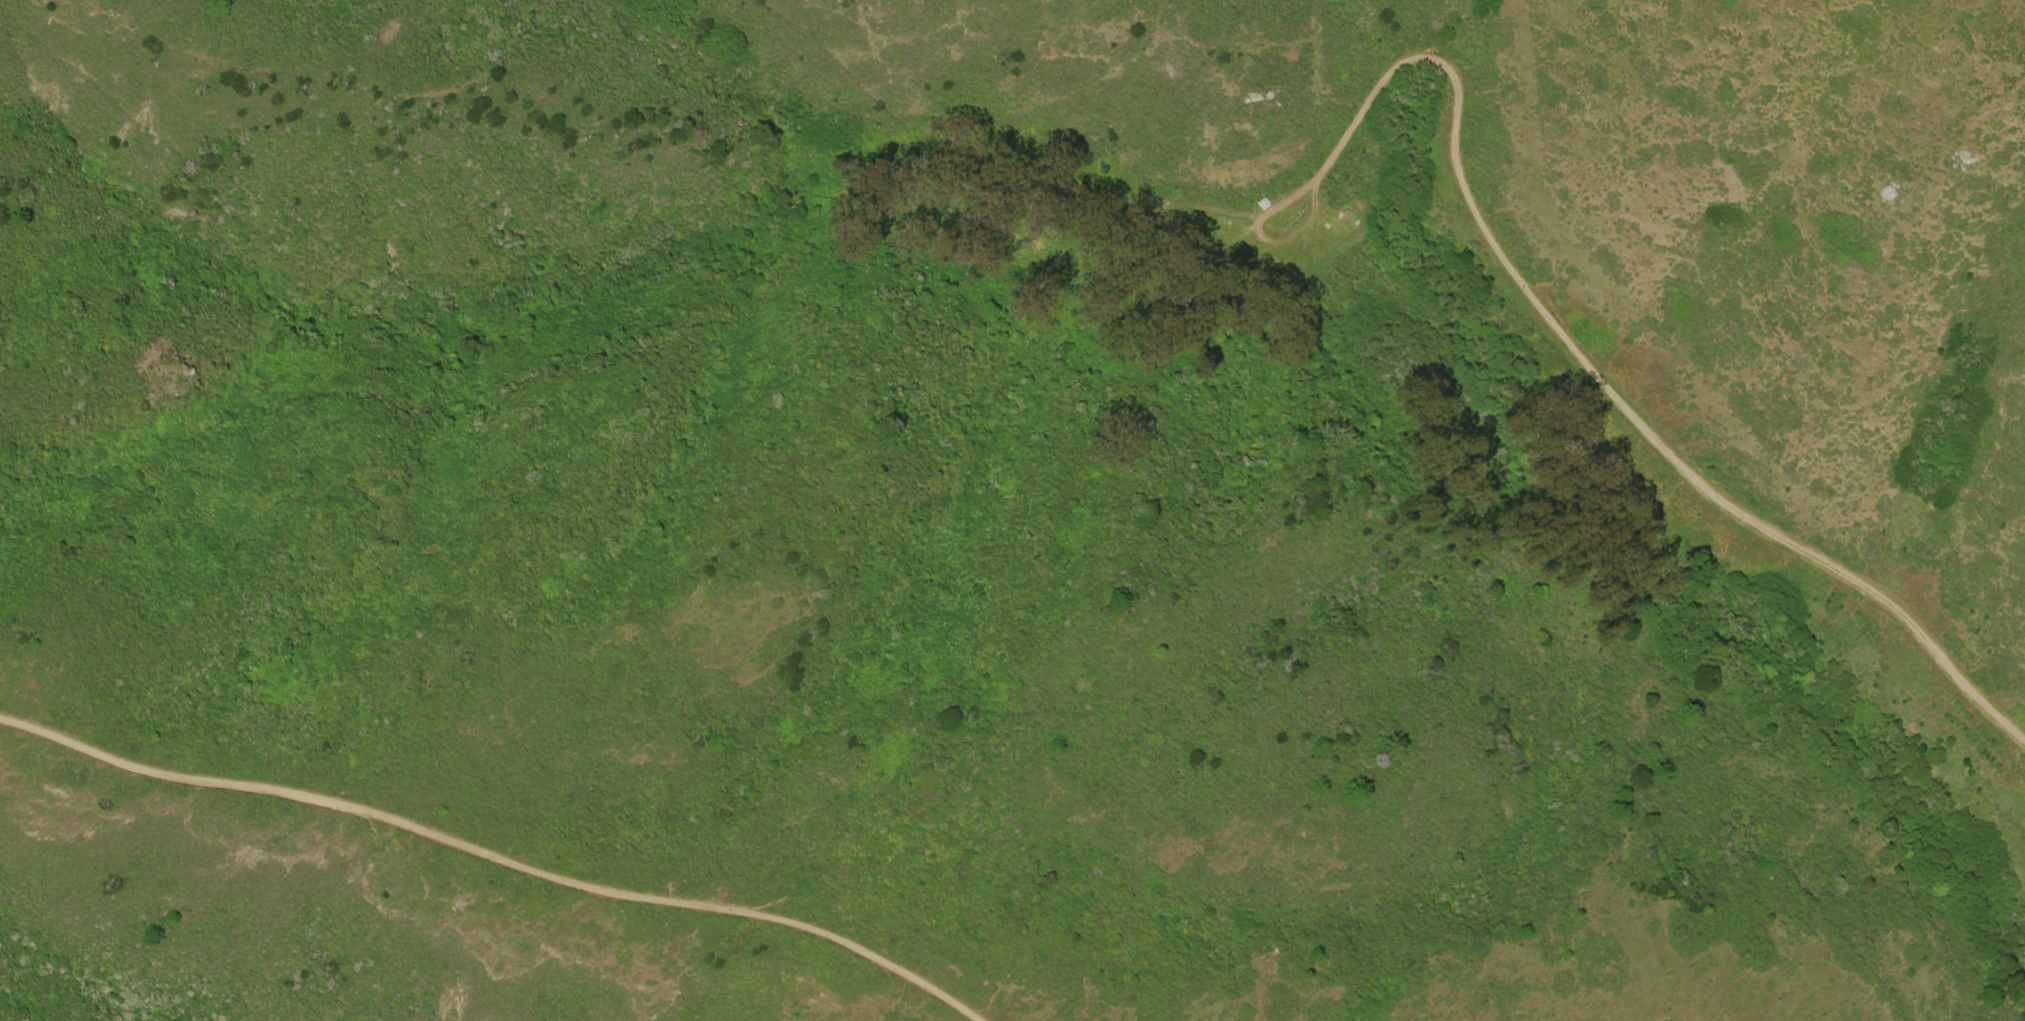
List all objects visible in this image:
road: (1460, 171)
building: (1261, 202)
road: (496, 858)

